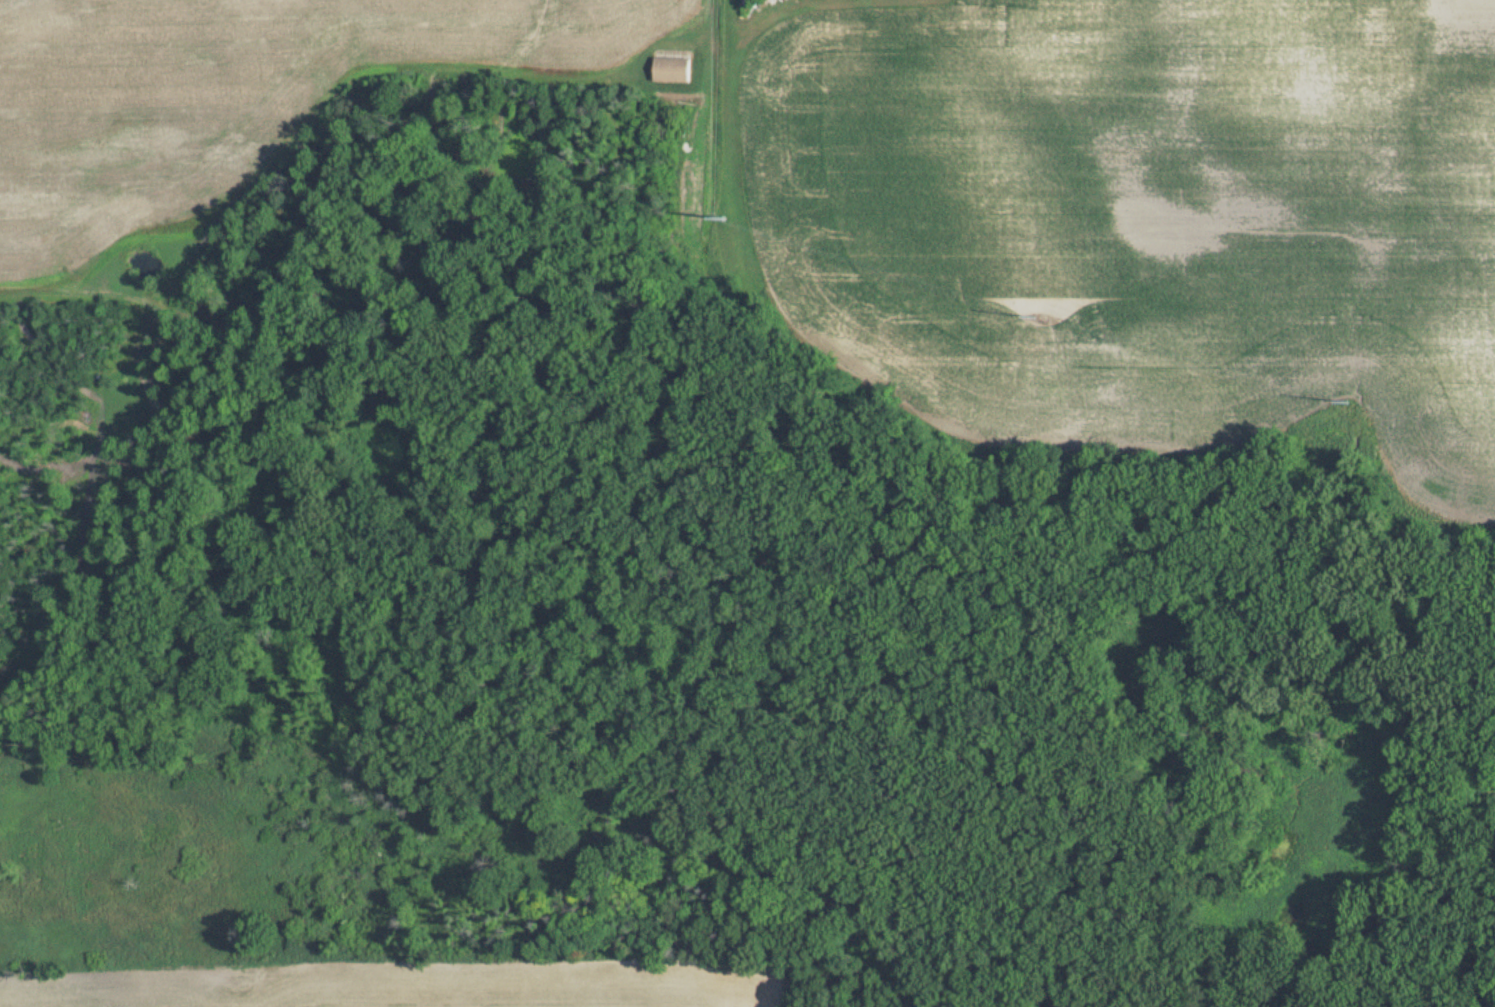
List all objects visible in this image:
building: (675, 72)
road: (707, 77)

